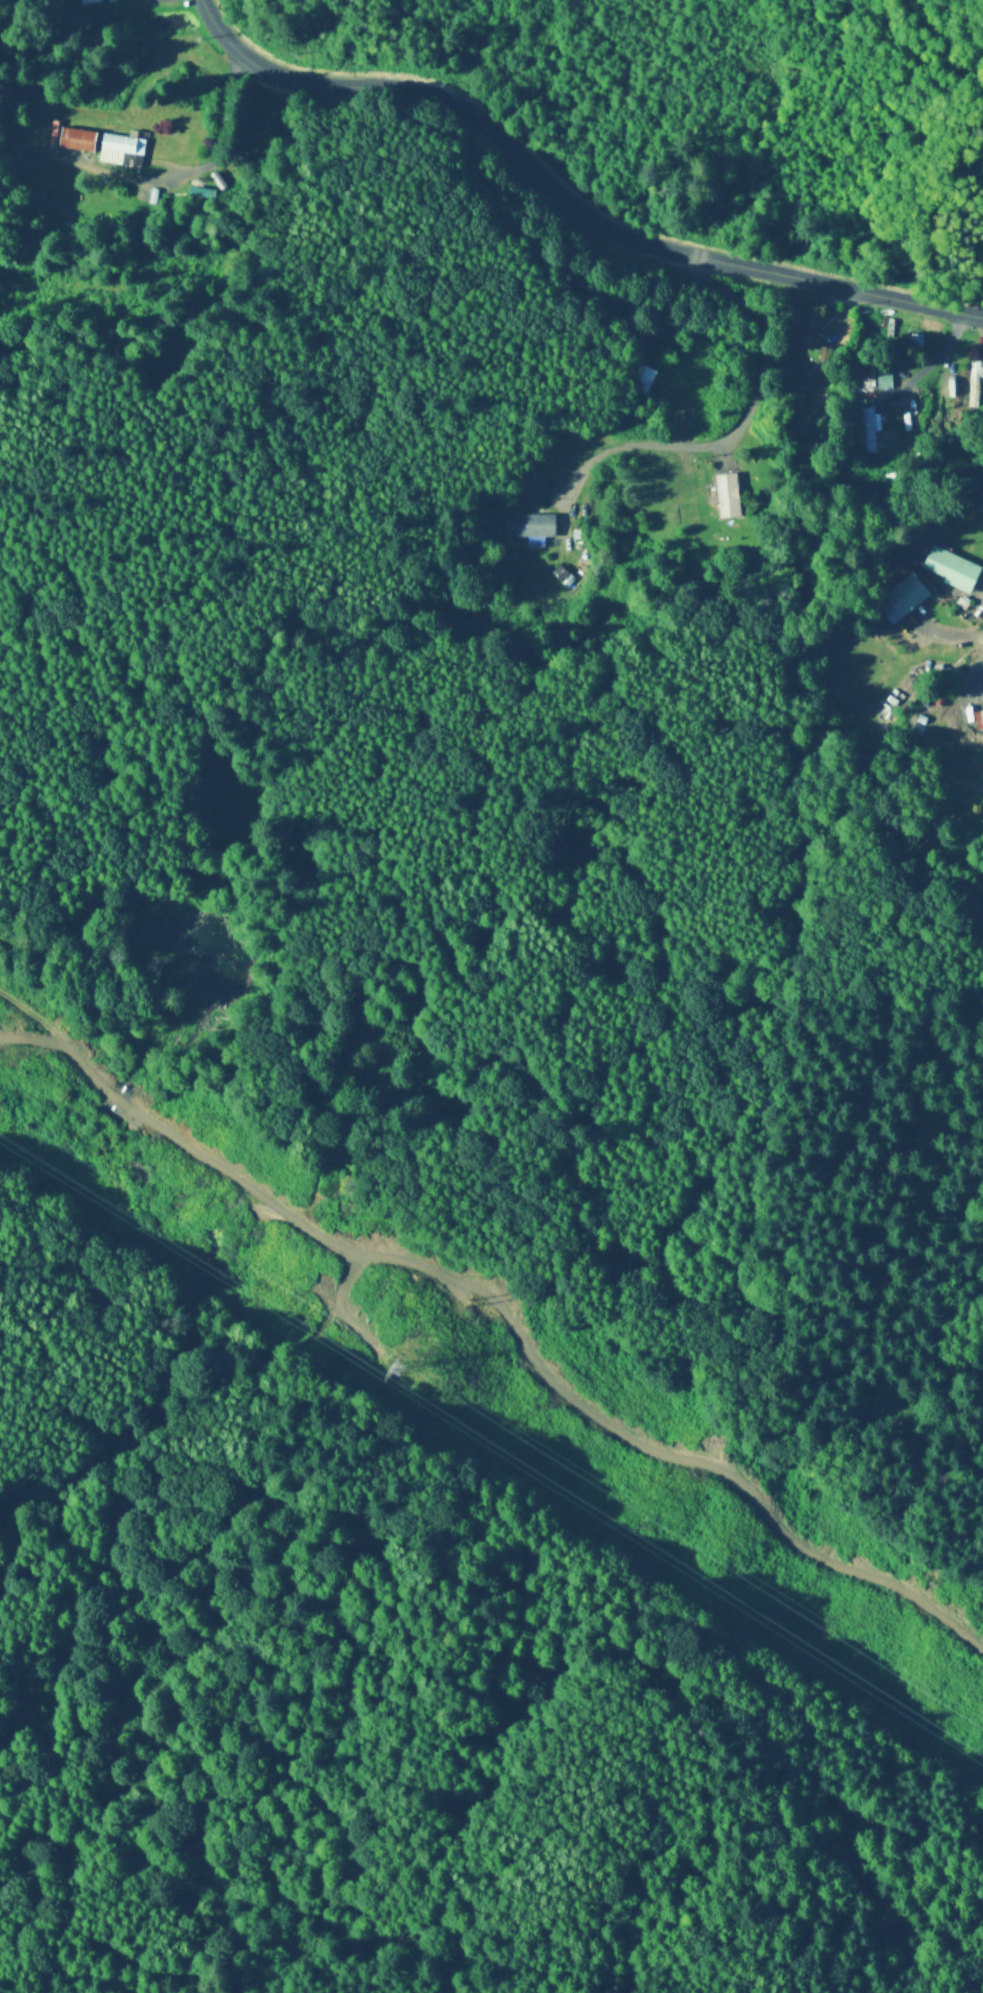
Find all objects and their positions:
building: (86, 1)
building: (104, 148)
road: (565, 208)
building: (796, 332)
building: (915, 340)
road: (934, 356)
road: (376, 359)
building: (646, 376)
building: (974, 380)
building: (886, 382)
building: (868, 431)
building: (723, 495)
building: (698, 516)
building: (527, 526)
building: (980, 542)
building: (953, 566)
building: (904, 599)
building: (979, 721)
power tower: (463, 1301)
power tower: (397, 1371)

